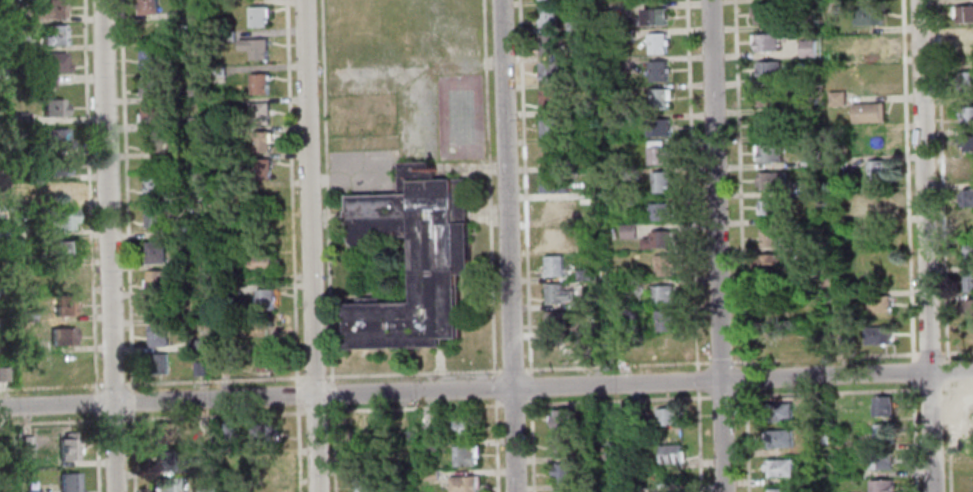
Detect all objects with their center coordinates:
building: (148, 7)
building: (833, 8)
building: (51, 9)
building: (15, 13)
building: (963, 13)
building: (760, 14)
building: (259, 15)
building: (549, 15)
building: (869, 15)
building: (654, 16)
building: (808, 20)
building: (576, 24)
building: (624, 31)
building: (54, 34)
building: (226, 35)
building: (766, 41)
building: (17, 42)
building: (550, 43)
building: (658, 43)
building: (966, 44)
building: (808, 46)
building: (867, 46)
building: (256, 47)
building: (149, 58)
building: (51, 67)
building: (769, 69)
building: (660, 70)
building: (549, 71)
building: (218, 73)
building: (809, 76)
building: (967, 81)
building: (260, 83)
building: (151, 85)
building: (632, 86)
building: (187, 92)
building: (770, 97)
building: (662, 98)
building: (838, 98)
building: (550, 99)
building: (810, 102)
building: (55, 107)
building: (260, 111)
building: (869, 111)
building: (151, 114)
building: (967, 114)
park: (459, 116)
building: (22, 118)
building: (190, 121)
building: (770, 125)
building: (550, 127)
building: (660, 127)
building: (225, 133)
building: (811, 133)
building: (56, 137)
building: (874, 137)
building: (153, 141)
building: (262, 141)
building: (968, 143)
building: (21, 146)
building: (660, 152)
building: (769, 152)
building: (551, 153)
building: (812, 160)
building: (58, 165)
building: (261, 168)
building: (967, 169)
building: (879, 170)
building: (632, 171)
road: (908, 178)
road: (942, 178)
building: (772, 179)
building: (662, 181)
building: (556, 182)
building: (153, 184)
building: (816, 184)
road: (691, 185)
road: (326, 190)
road: (291, 191)
building: (59, 192)
road: (91, 196)
building: (631, 197)
building: (966, 197)
building: (23, 202)
building: (879, 207)
building: (769, 208)
building: (1, 210)
building: (556, 210)
building: (662, 210)
building: (154, 216)
building: (592, 216)
building: (843, 218)
building: (62, 219)
building: (967, 223)
building: (628, 229)
building: (184, 230)
building: (771, 236)
building: (555, 237)
building: (659, 238)
road: (742, 245)
road: (925, 245)
road: (109, 246)
road: (124, 246)
road: (309, 246)
road: (491, 246)
road: (507, 246)
road: (527, 246)
road: (716, 246)
building: (60, 248)
building: (156, 252)
building: (969, 252)
building: (415, 258)
building: (24, 260)
building: (182, 260)
building: (264, 261)
building: (664, 264)
building: (771, 264)
building: (555, 265)
building: (584, 272)
building: (63, 274)
building: (230, 276)
building: (814, 276)
building: (156, 279)
building: (969, 281)
building: (232, 288)
building: (632, 291)
building: (560, 292)
building: (665, 292)
building: (1, 293)
building: (266, 298)
building: (588, 301)
building: (65, 302)
building: (880, 303)
building: (157, 307)
building: (970, 307)
building: (27, 312)
building: (772, 312)
building: (3, 320)
building: (666, 320)
building: (557, 321)
building: (594, 327)
building: (63, 334)
building: (159, 335)
building: (879, 335)
building: (197, 343)
building: (665, 346)
building: (1, 350)
building: (623, 350)
building: (559, 351)
road: (958, 351)
building: (598, 352)
road: (930, 352)
road: (824, 357)
building: (270, 360)
road: (721, 361)
building: (160, 363)
building: (63, 366)
road: (617, 366)
building: (199, 367)
road: (947, 368)
road: (513, 370)
road: (913, 370)
building: (3, 372)
road: (414, 373)
road: (314, 376)
road: (698, 380)
road: (151, 382)
road: (957, 386)
road: (930, 388)
road: (486, 389)
road: (814, 392)
road: (332, 393)
road: (296, 395)
road: (617, 399)
road: (97, 402)
road: (513, 402)
building: (882, 406)
building: (778, 412)
road: (250, 414)
building: (668, 416)
building: (426, 420)
building: (562, 421)
building: (461, 428)
building: (360, 429)
building: (226, 430)
building: (263, 433)
building: (5, 434)
building: (162, 434)
building: (883, 435)
road: (949, 436)
road: (915, 438)
building: (778, 439)
road: (699, 441)
building: (26, 442)
building: (68, 446)
building: (562, 446)
road: (334, 448)
road: (298, 449)
road: (98, 451)
building: (671, 454)
building: (465, 456)
building: (880, 460)
building: (163, 461)
building: (199, 465)
building: (264, 465)
building: (779, 468)
building: (564, 474)
building: (430, 475)
building: (815, 476)
building: (71, 482)
building: (362, 483)
building: (463, 484)
building: (163, 485)
building: (880, 486)
building: (270, 489)
building: (398, 489)
building: (201, 490)
building: (780, 490)
building: (33, 491)
building: (567, 491)

